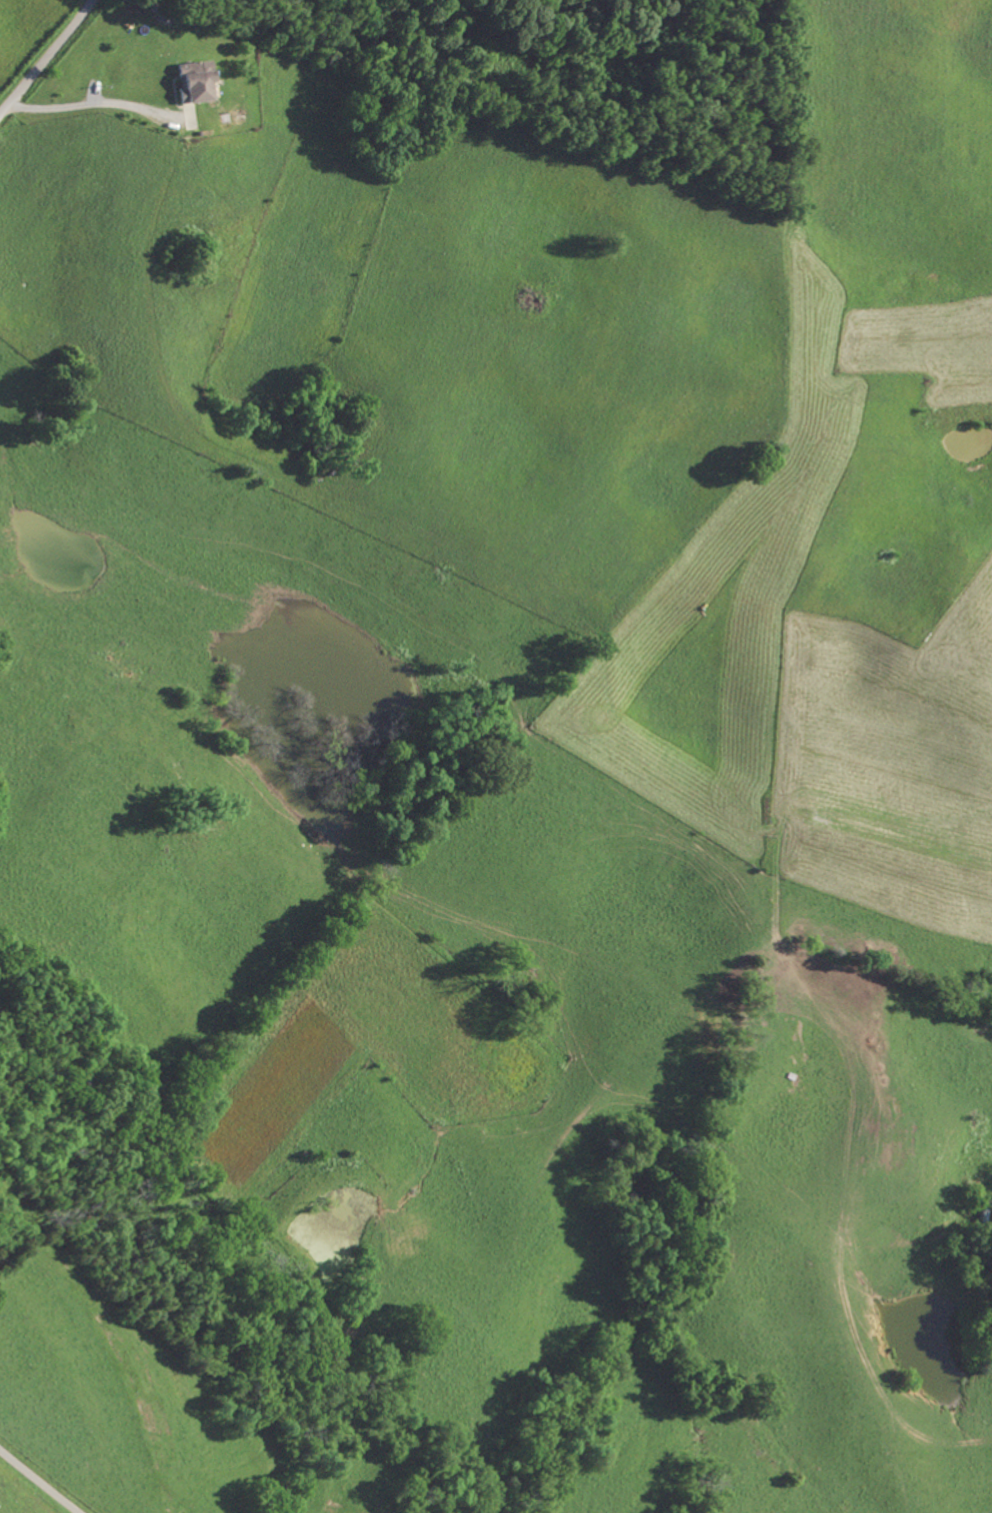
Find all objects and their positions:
road: (41, 53)
building: (191, 82)
road: (90, 103)
road: (41, 1480)

